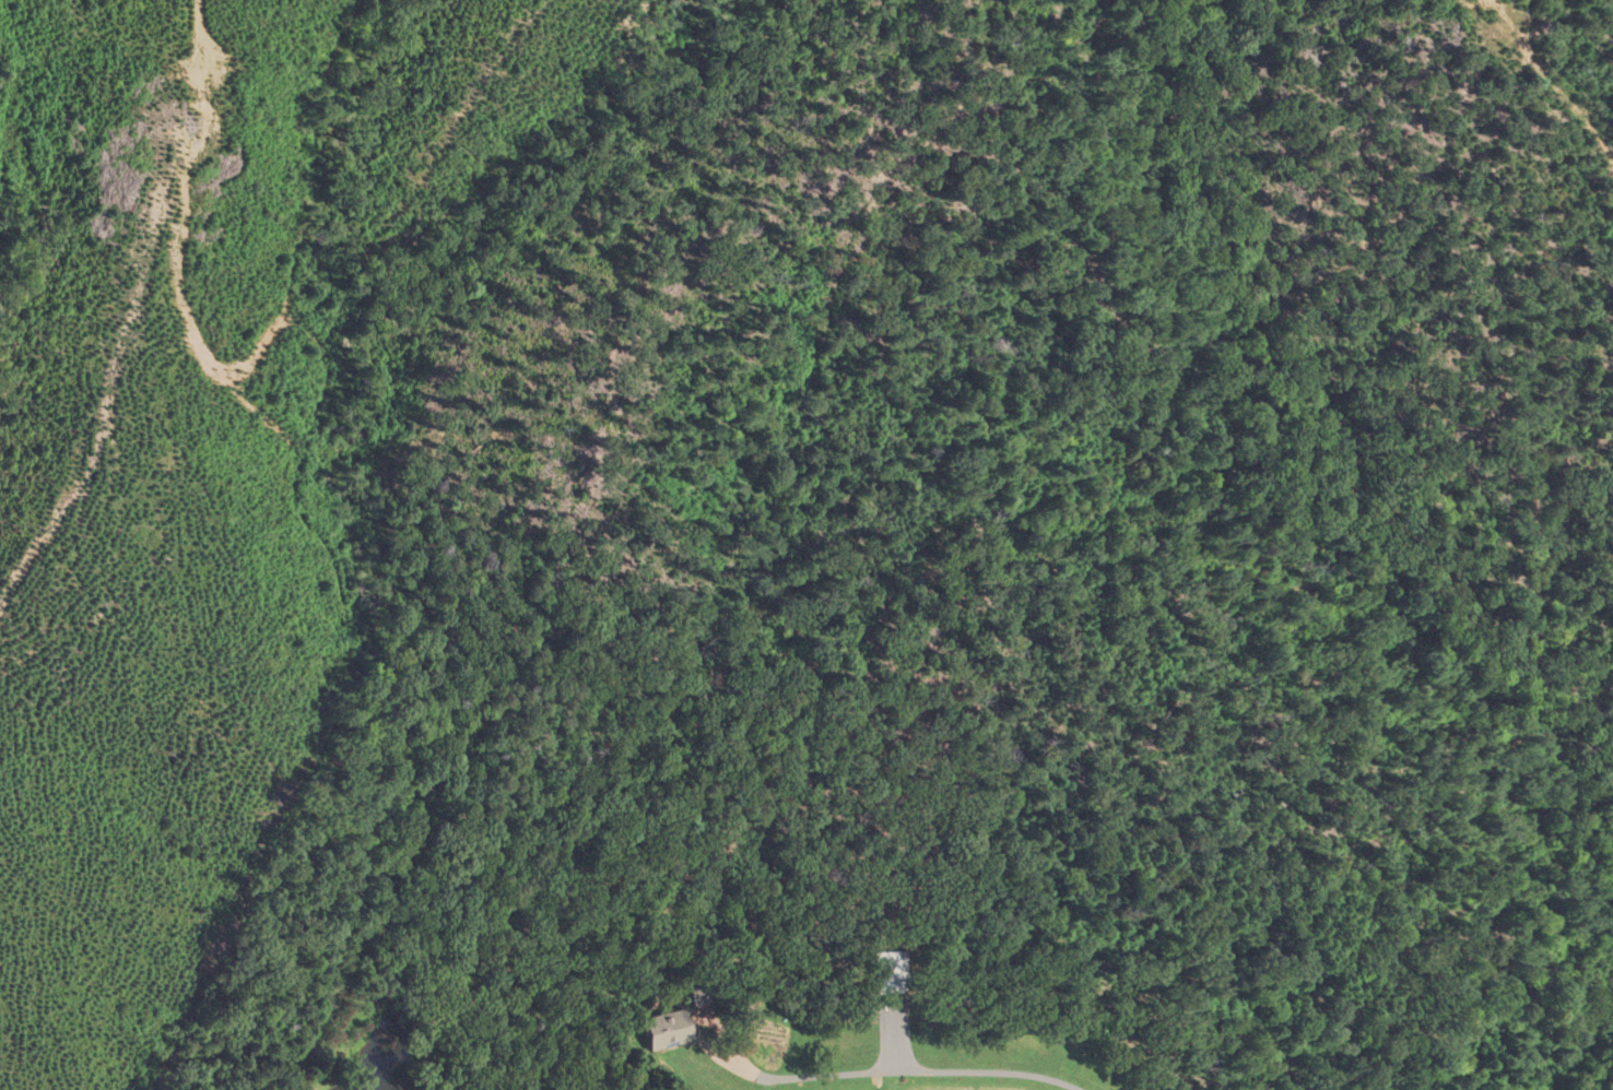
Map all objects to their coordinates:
building: (885, 973)
building: (658, 1030)
road: (871, 1075)

